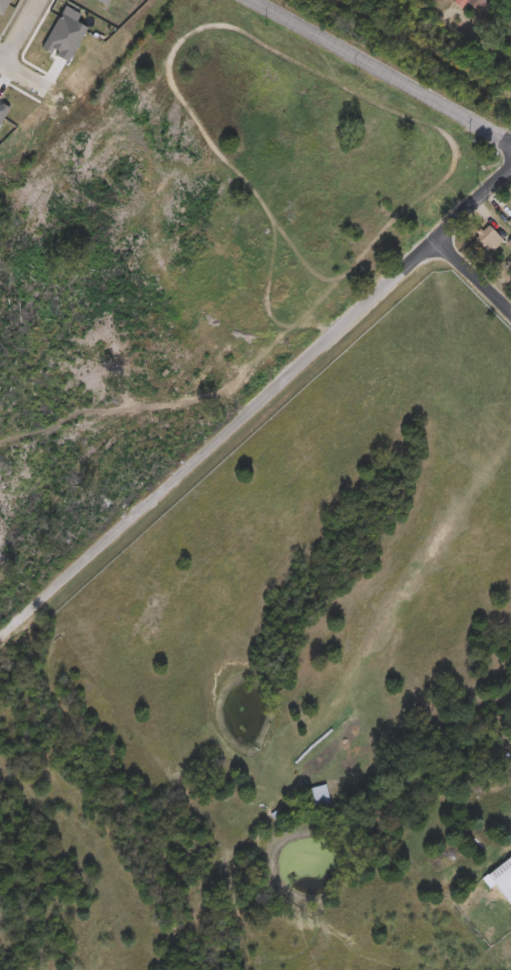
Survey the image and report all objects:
building: (477, 5)
building: (3, 6)
road: (20, 33)
road: (491, 47)
road: (381, 76)
road: (22, 79)
building: (383, 230)
building: (485, 243)
road: (475, 276)
road: (256, 404)
building: (318, 797)
building: (503, 879)

